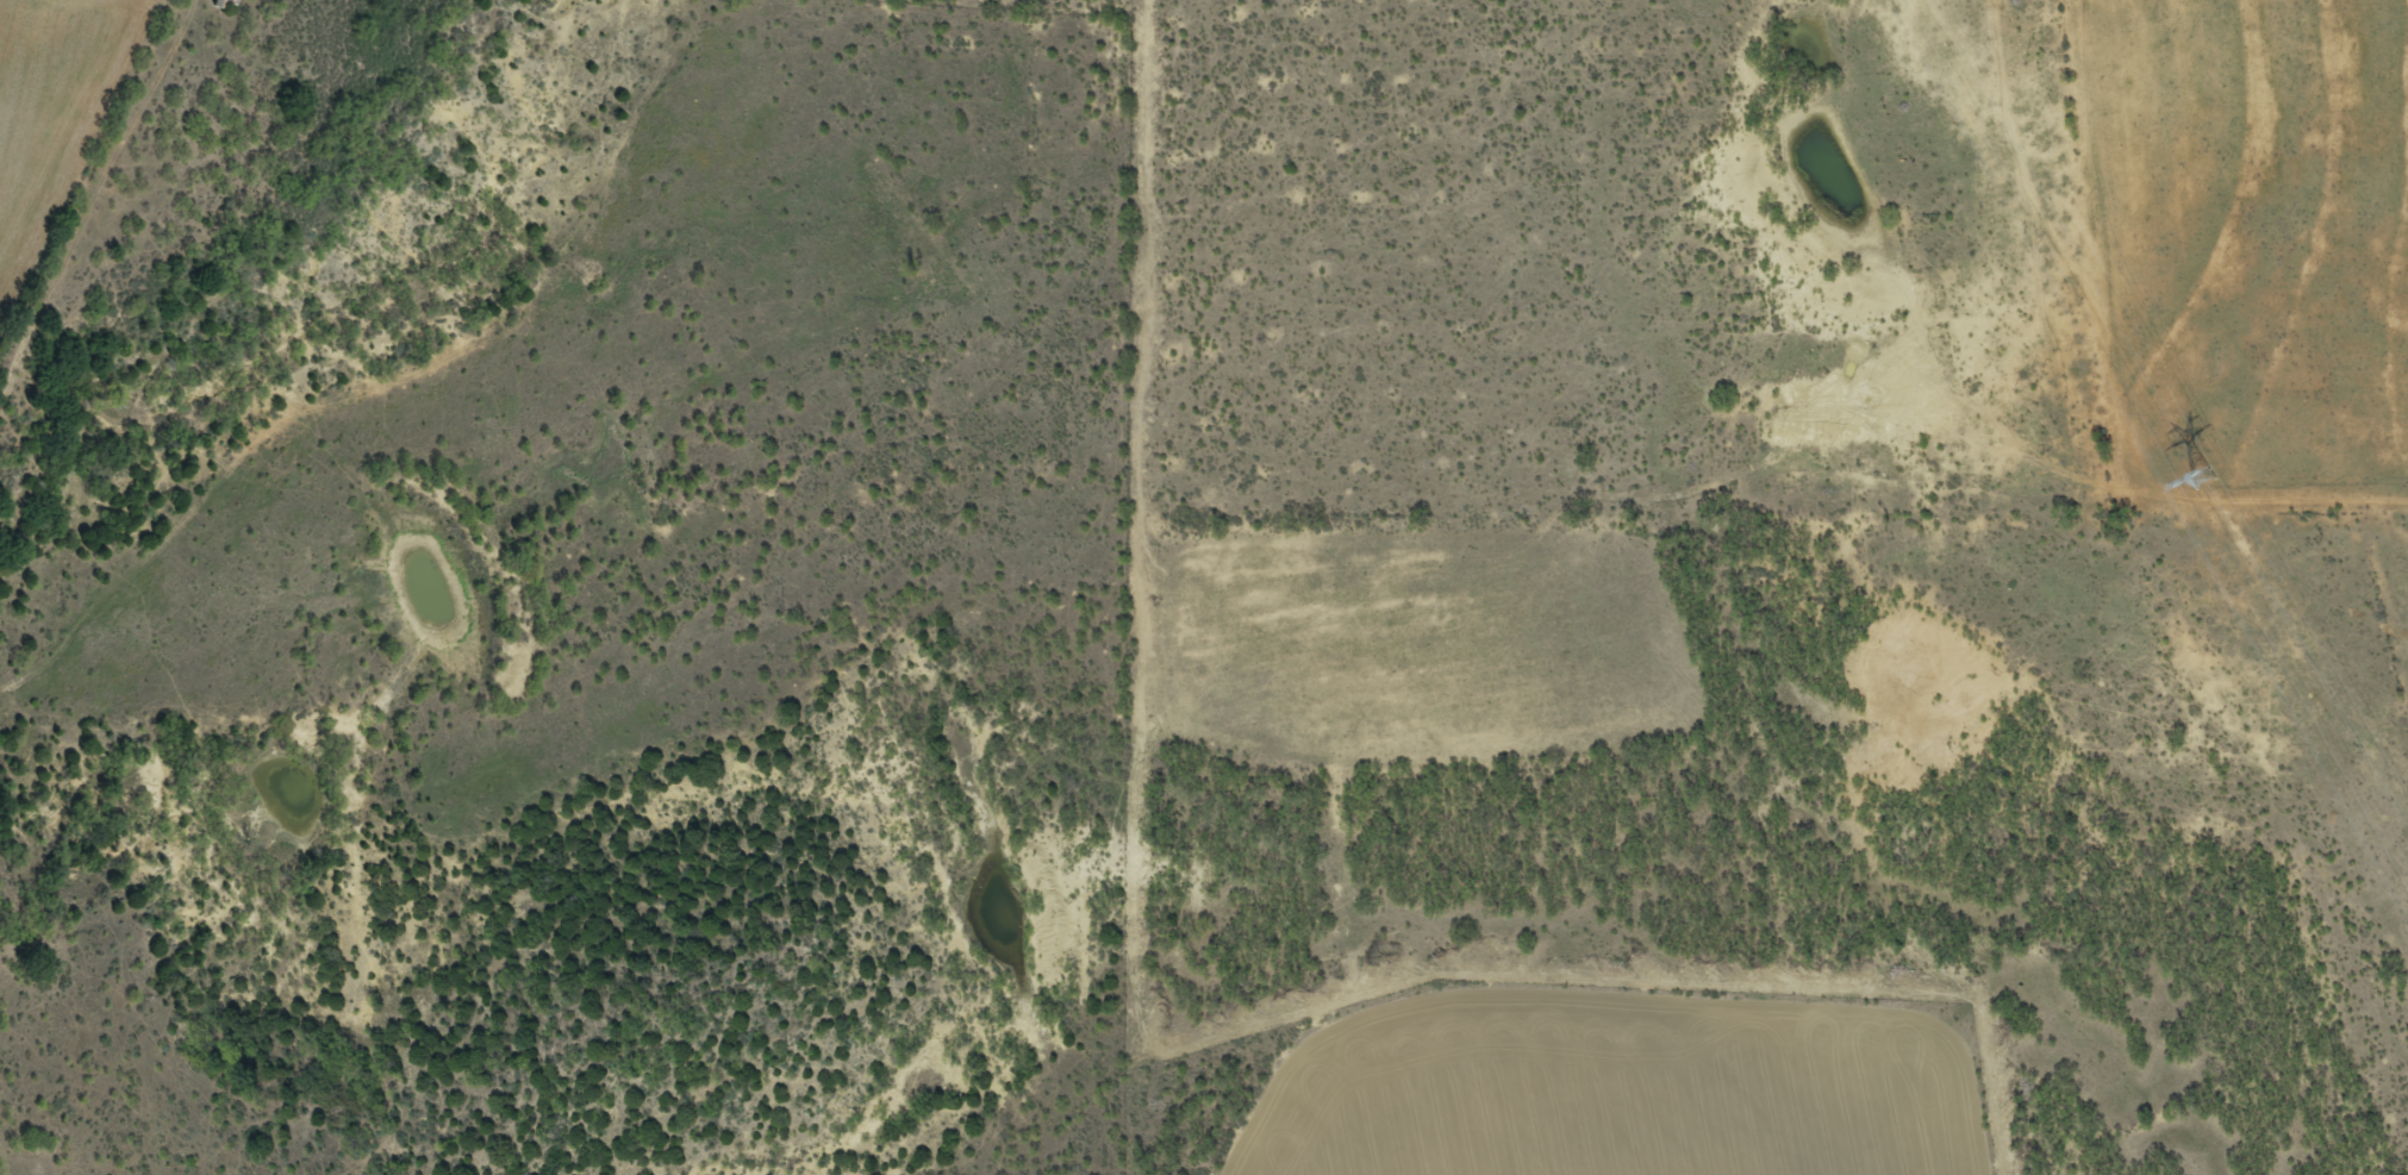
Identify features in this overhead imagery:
power tower: (2206, 481)

